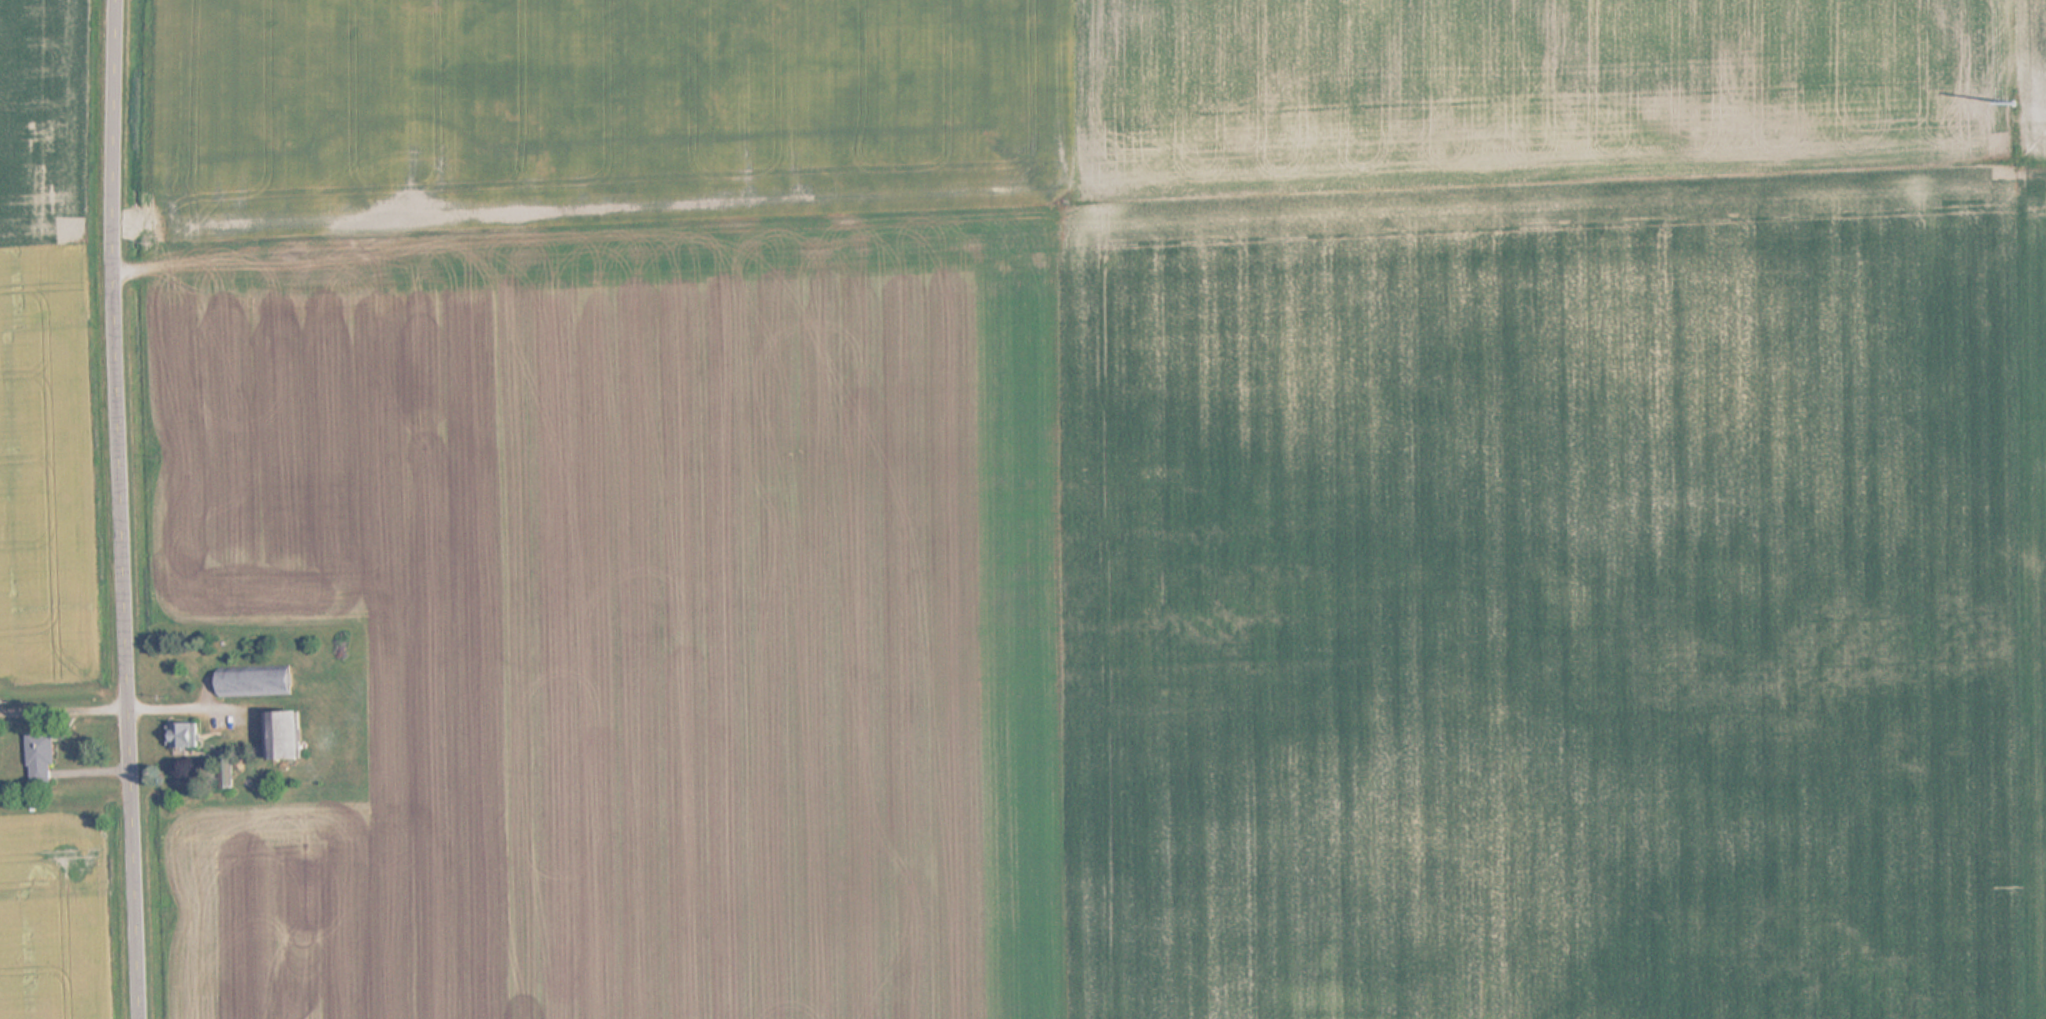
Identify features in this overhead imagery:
power tower: (2012, 103)
road: (154, 509)
building: (258, 683)
building: (186, 735)
building: (291, 736)
building: (44, 758)

